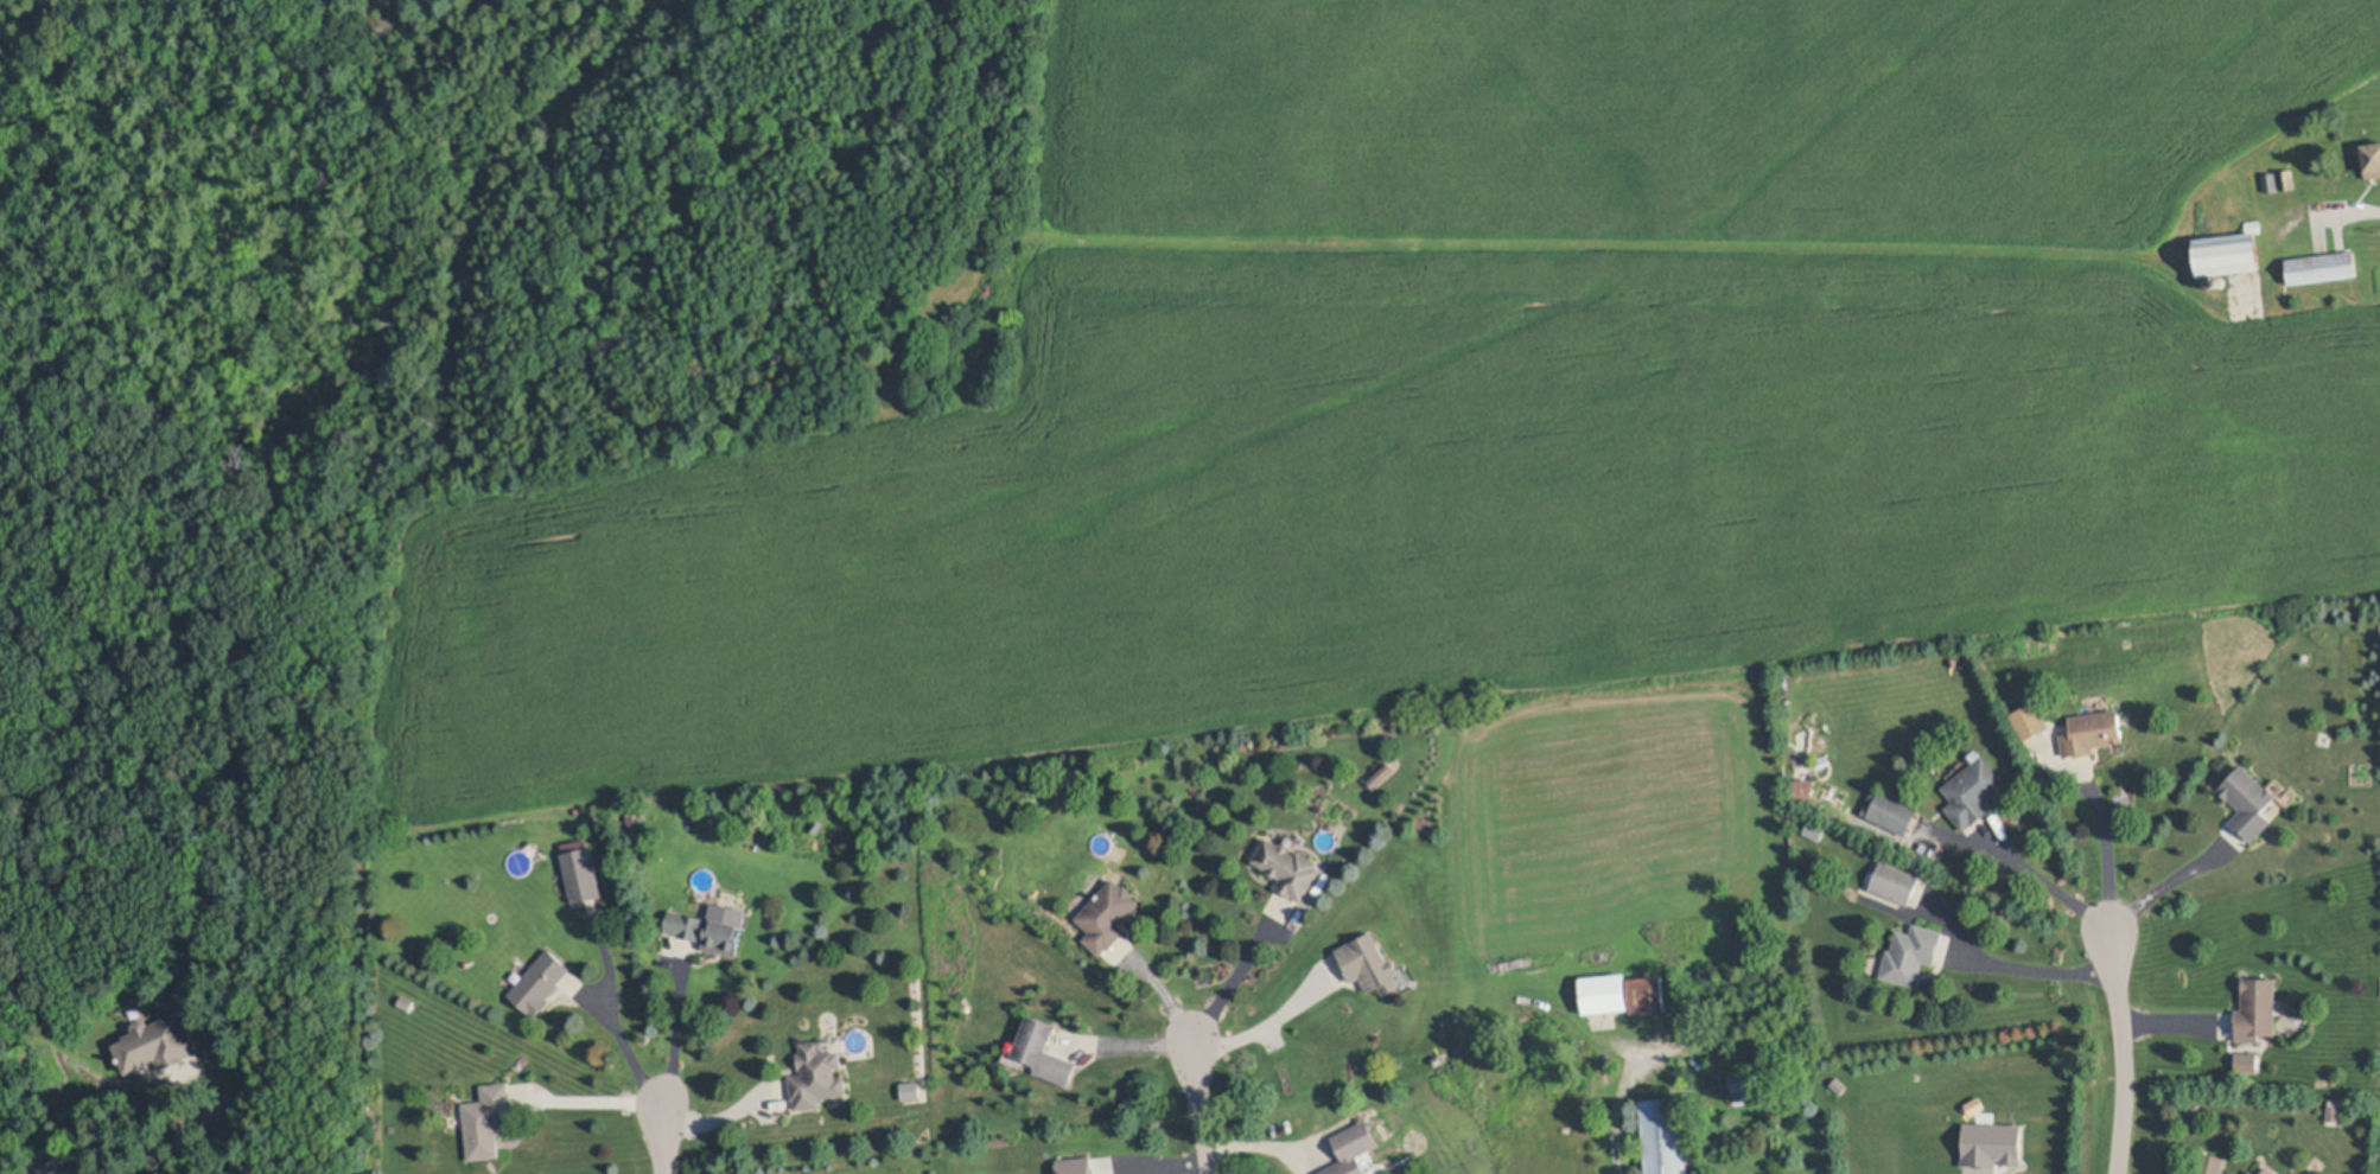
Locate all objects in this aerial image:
building: (2371, 157)
building: (2286, 178)
building: (2271, 180)
road: (2352, 205)
building: (2253, 225)
building: (2228, 255)
building: (2321, 267)
building: (2221, 282)
building: (2210, 283)
building: (2032, 717)
building: (2092, 732)
building: (1806, 790)
building: (1975, 790)
building: (2249, 798)
building: (1890, 806)
building: (816, 824)
building: (1816, 828)
road: (2111, 846)
building: (1287, 864)
building: (583, 874)
building: (1895, 879)
road: (2038, 882)
road: (2171, 887)
building: (1108, 912)
building: (707, 929)
building: (1910, 951)
building: (1372, 961)
road: (2004, 964)
road: (1230, 976)
building: (539, 981)
building: (1605, 991)
building: (1647, 993)
building: (406, 1002)
building: (2257, 1006)
road: (607, 1014)
road: (673, 1028)
road: (1272, 1028)
building: (157, 1041)
road: (1127, 1047)
building: (1042, 1048)
road: (2123, 1053)
building: (2248, 1064)
building: (816, 1074)
building: (1748, 1084)
road: (1623, 1089)
building: (912, 1092)
road: (598, 1105)
road: (1199, 1106)
building: (2333, 1109)
building: (488, 1117)
road: (720, 1122)
building: (1665, 1135)
road: (663, 1140)
road: (235, 1143)
building: (1996, 1147)
building: (1356, 1149)
road: (1261, 1150)
building: (2209, 1163)
building: (1076, 1166)
building: (2268, 1170)
building: (2252, 1172)

